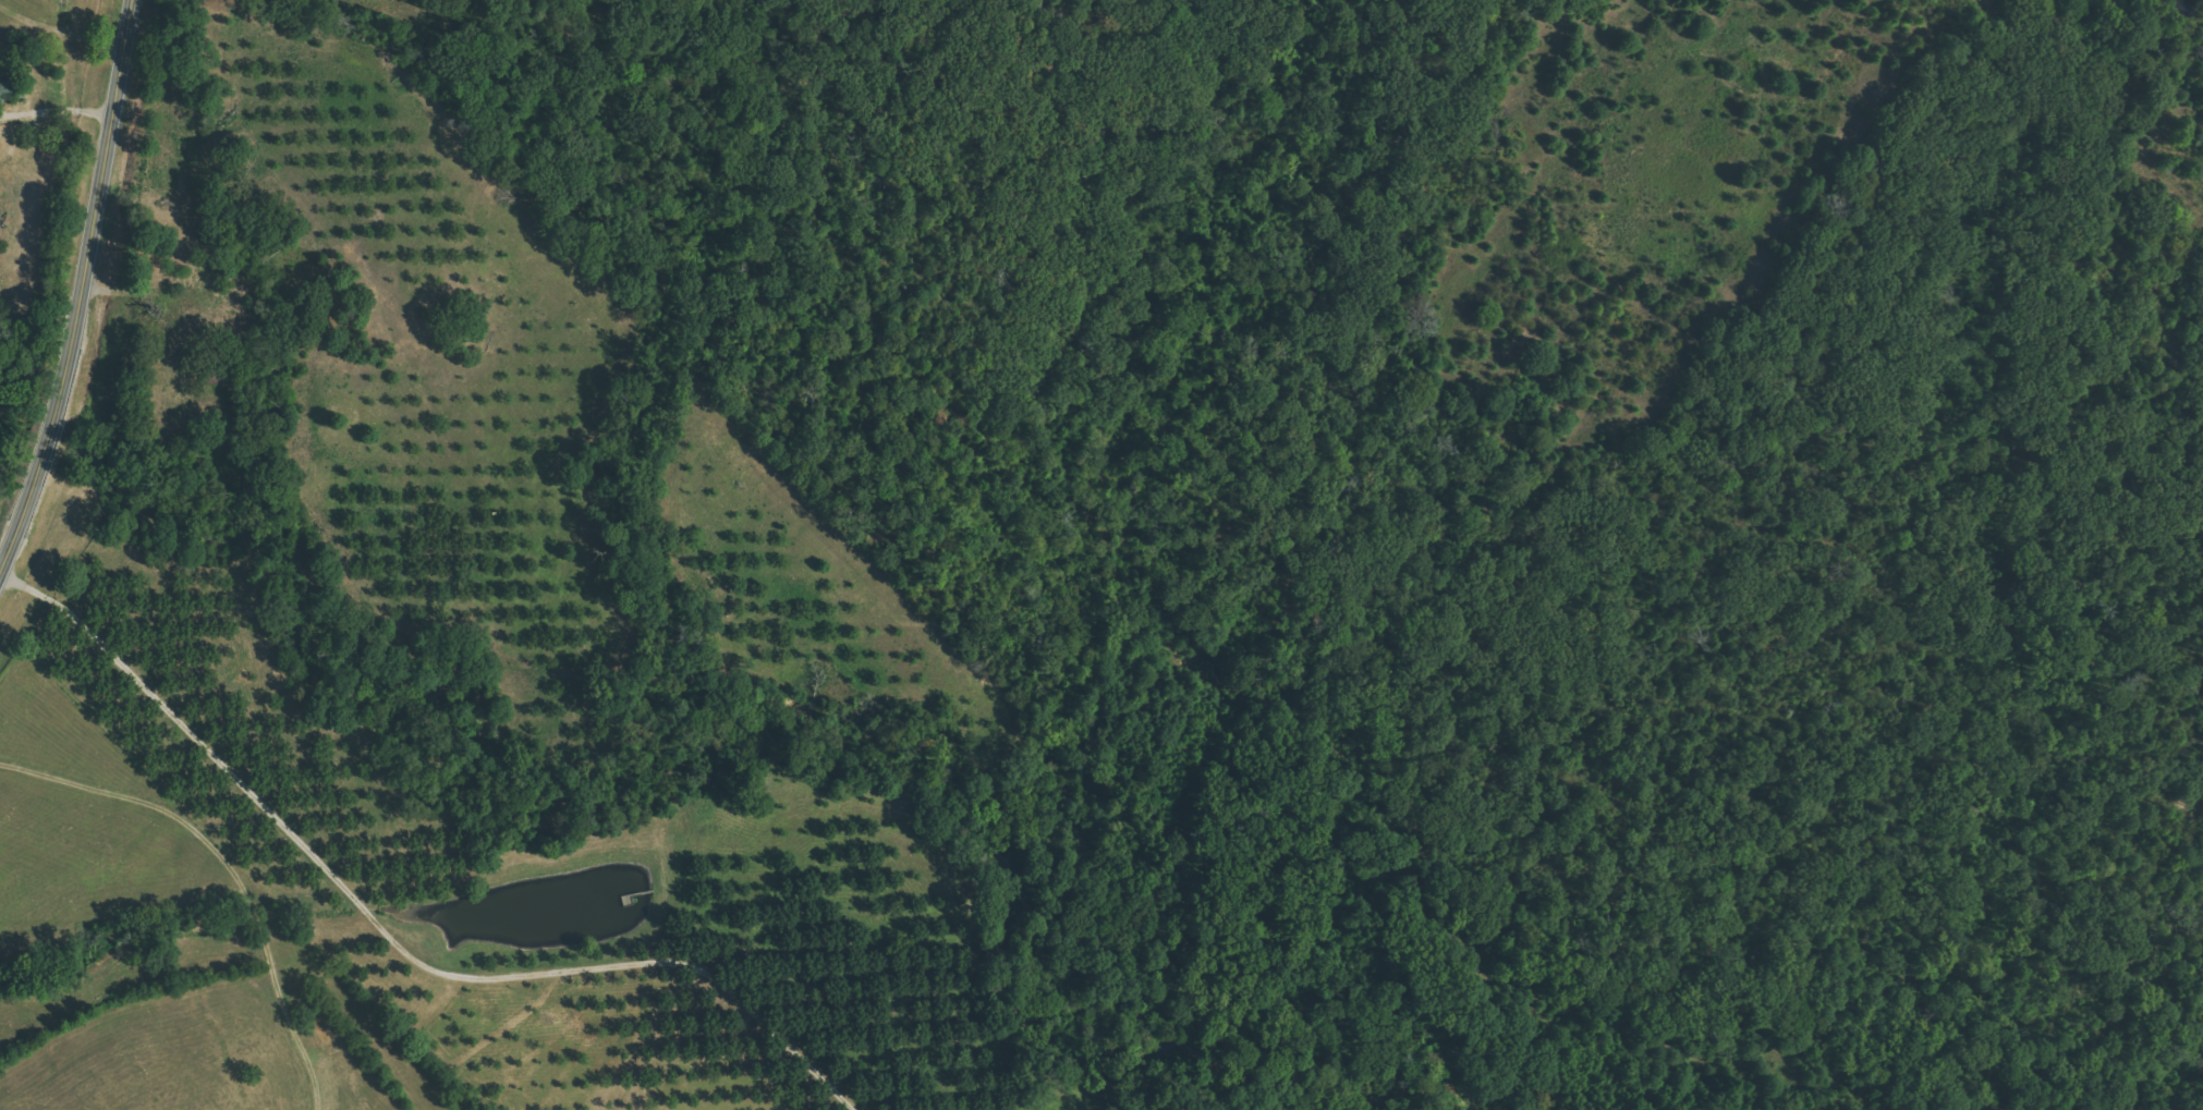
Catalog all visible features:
road: (87, 296)
road: (391, 937)
road: (57, 1072)

